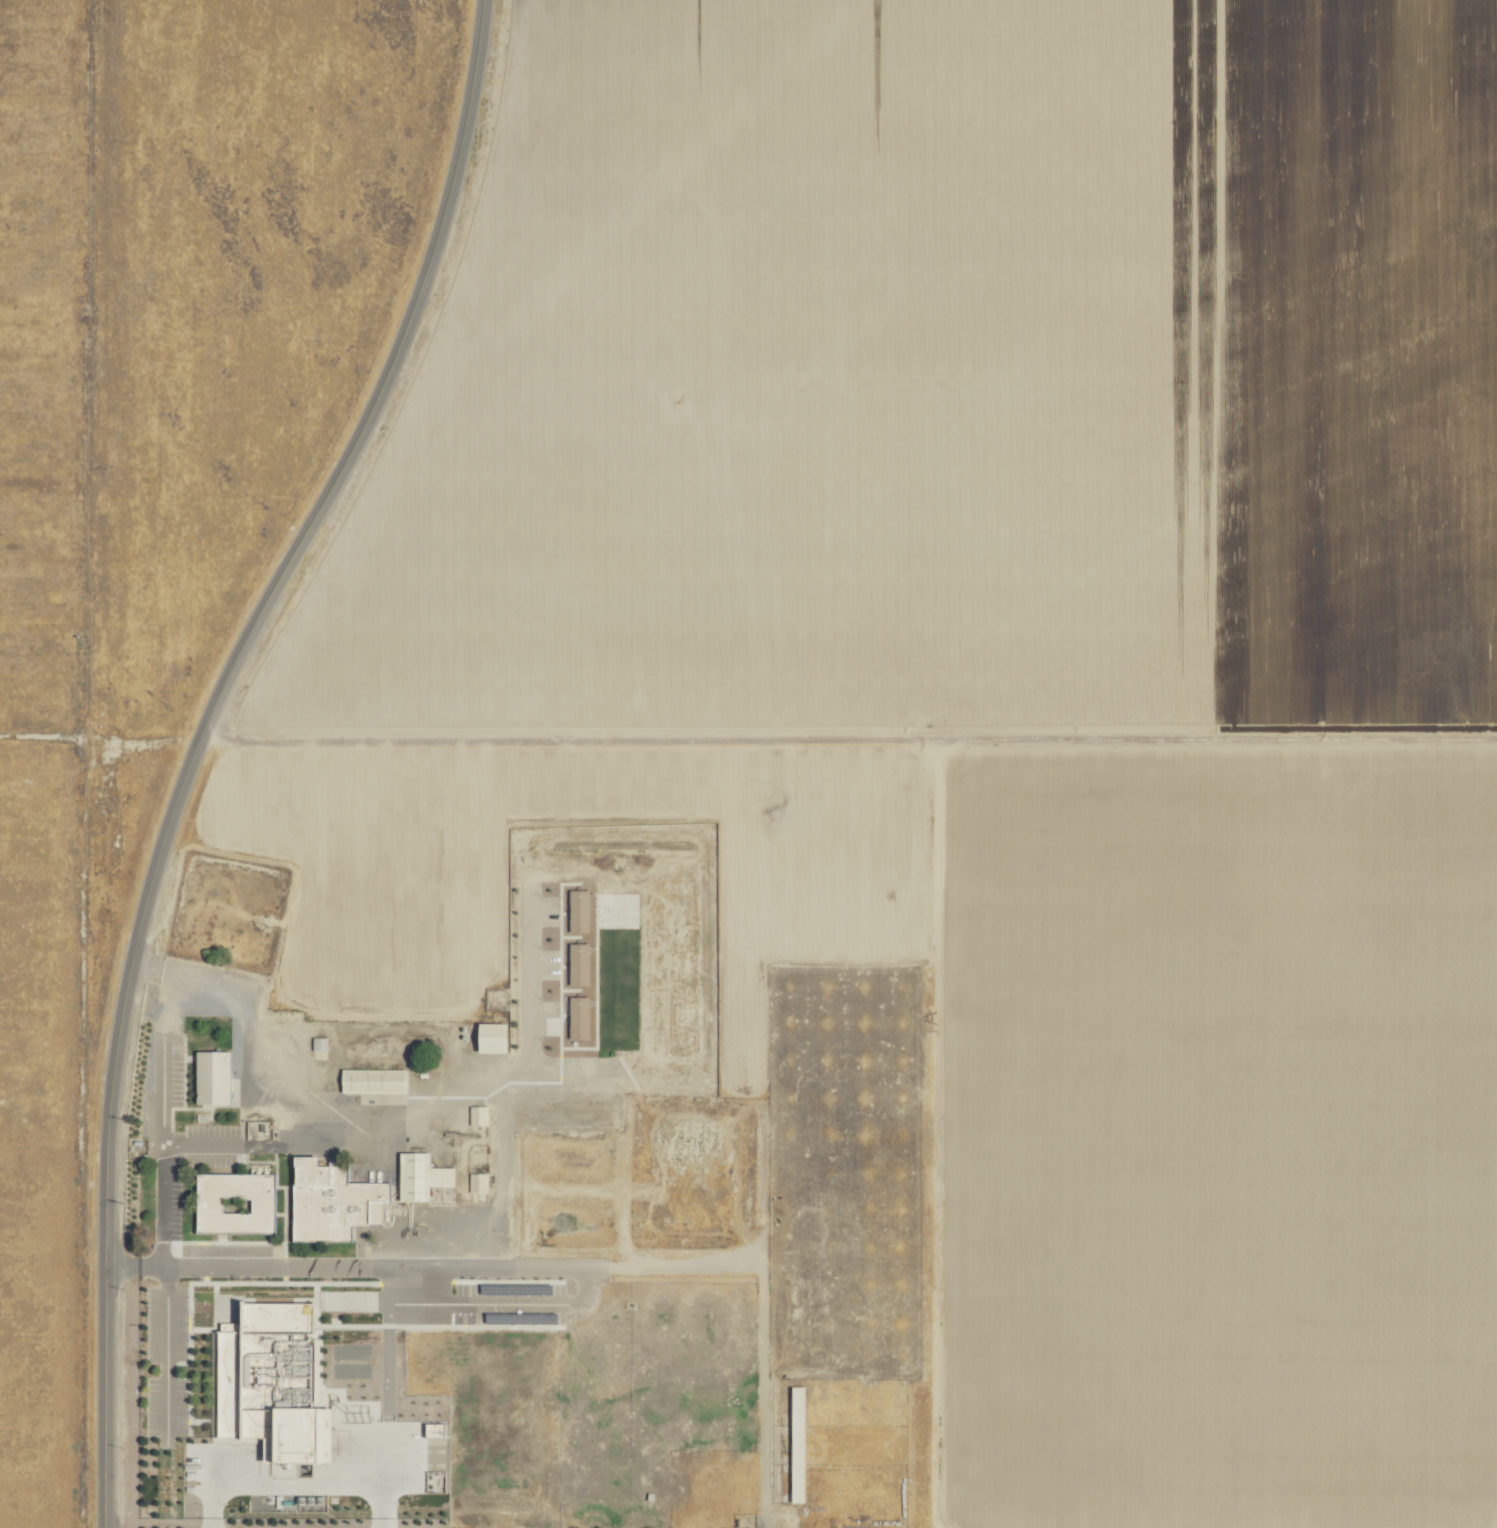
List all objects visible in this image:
road: (382, 384)
road: (859, 738)
crop: (748, 764)
crop: (642, 898)
building: (577, 1016)
building: (490, 1036)
building: (318, 1043)
building: (210, 1076)
building: (372, 1080)
road: (500, 1106)
building: (477, 1114)
road: (164, 1116)
road: (107, 1127)
road: (262, 1146)
building: (332, 1200)
building: (234, 1201)
road: (165, 1352)
road: (295, 1484)

